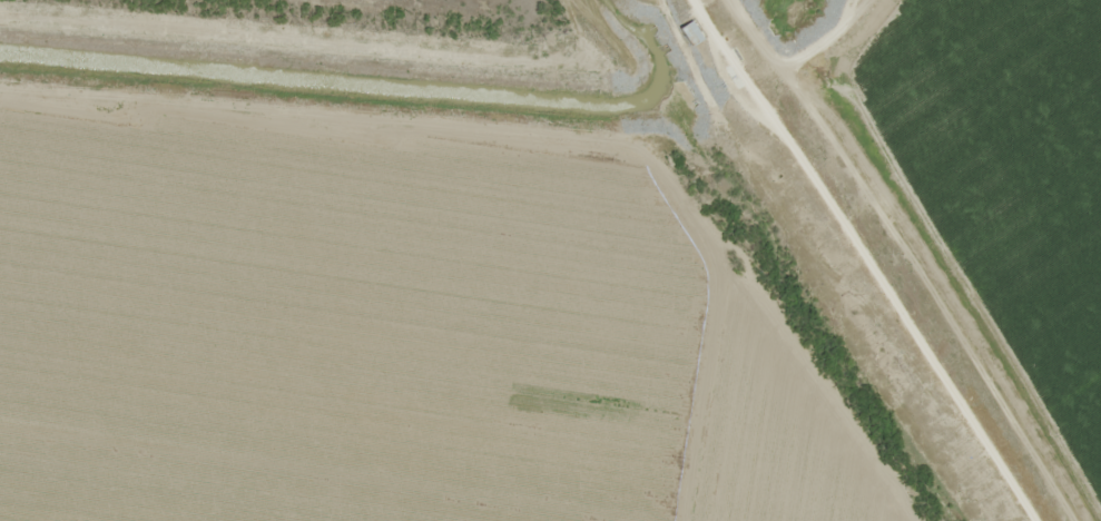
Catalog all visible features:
building: (684, 31)
road: (891, 254)

